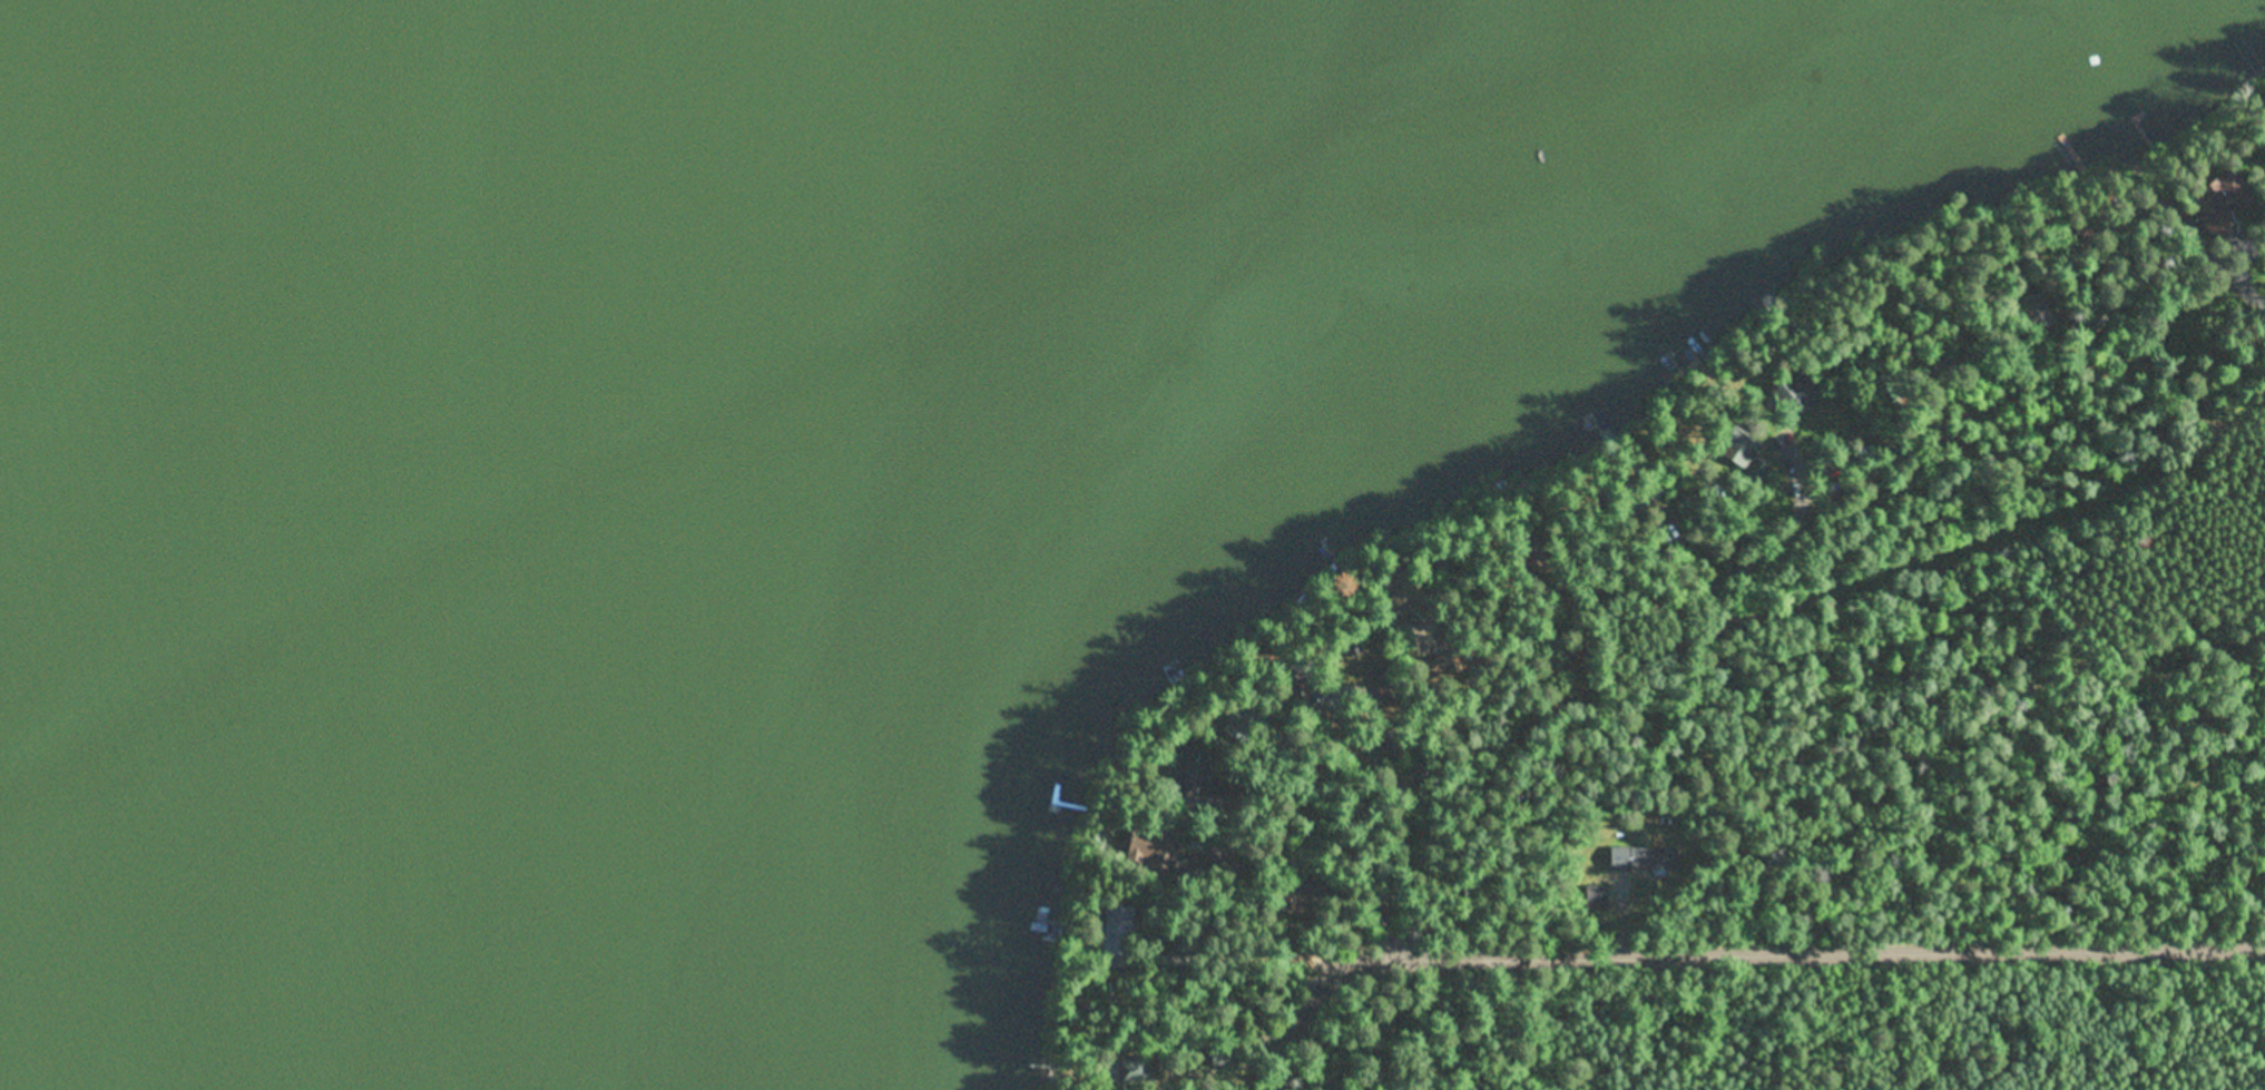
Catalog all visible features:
building: (2220, 203)
building: (2036, 311)
building: (2101, 324)
river: (193, 331)
building: (1929, 341)
building: (1797, 394)
building: (1885, 395)
building: (1736, 448)
building: (1765, 477)
building: (1643, 497)
building: (1625, 505)
building: (1692, 505)
building: (1530, 571)
building: (1412, 596)
road: (1671, 615)
building: (1409, 640)
building: (1351, 646)
building: (1440, 654)
building: (1301, 683)
building: (1393, 685)
building: (1248, 721)
building: (1394, 749)
building: (1192, 782)
building: (1220, 850)
building: (1161, 854)
building: (1646, 858)
building: (1119, 932)
building: (1192, 944)
road: (1790, 952)
road: (1306, 1018)
building: (1225, 1055)
building: (1134, 1074)
building: (1059, 1086)

